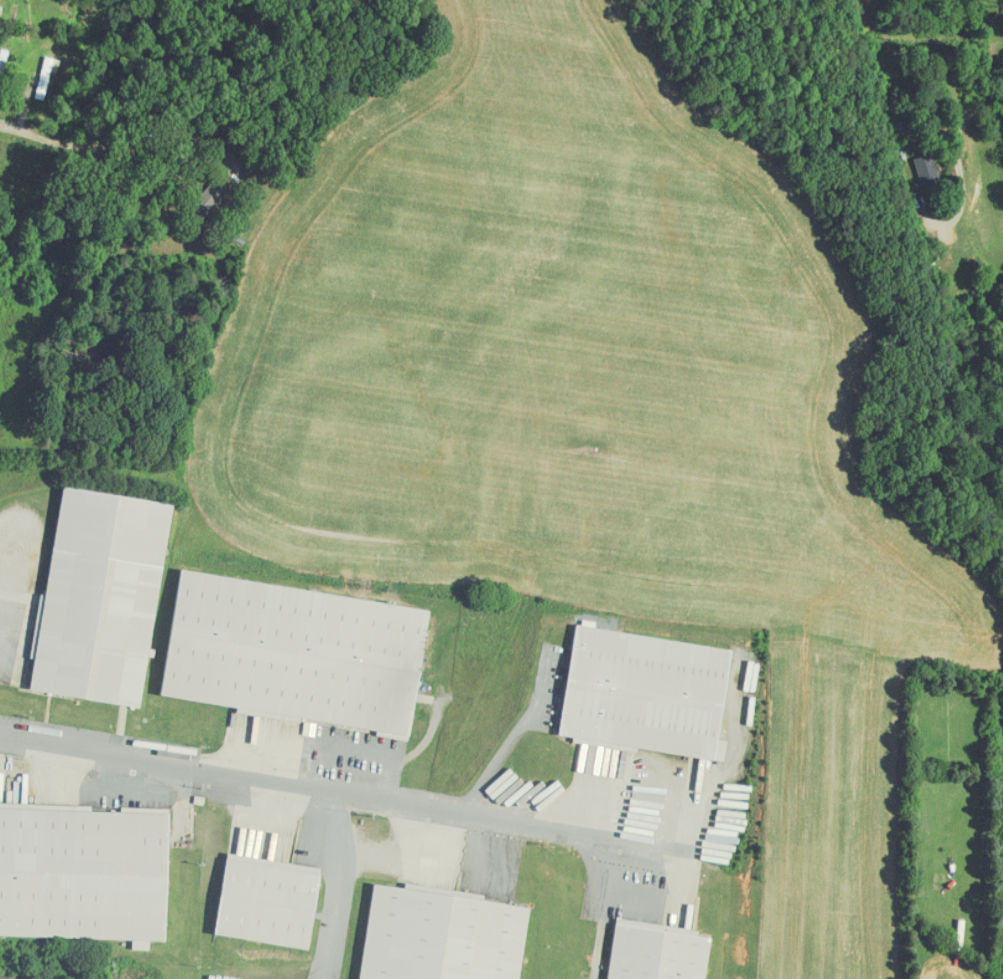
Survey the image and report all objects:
building: (1, 72)
road: (968, 112)
road: (44, 132)
building: (928, 171)
building: (101, 598)
building: (296, 653)
building: (647, 694)
road: (518, 731)
road: (345, 787)
road: (402, 853)
building: (84, 875)
road: (337, 882)
building: (268, 904)
building: (442, 937)
building: (657, 954)

